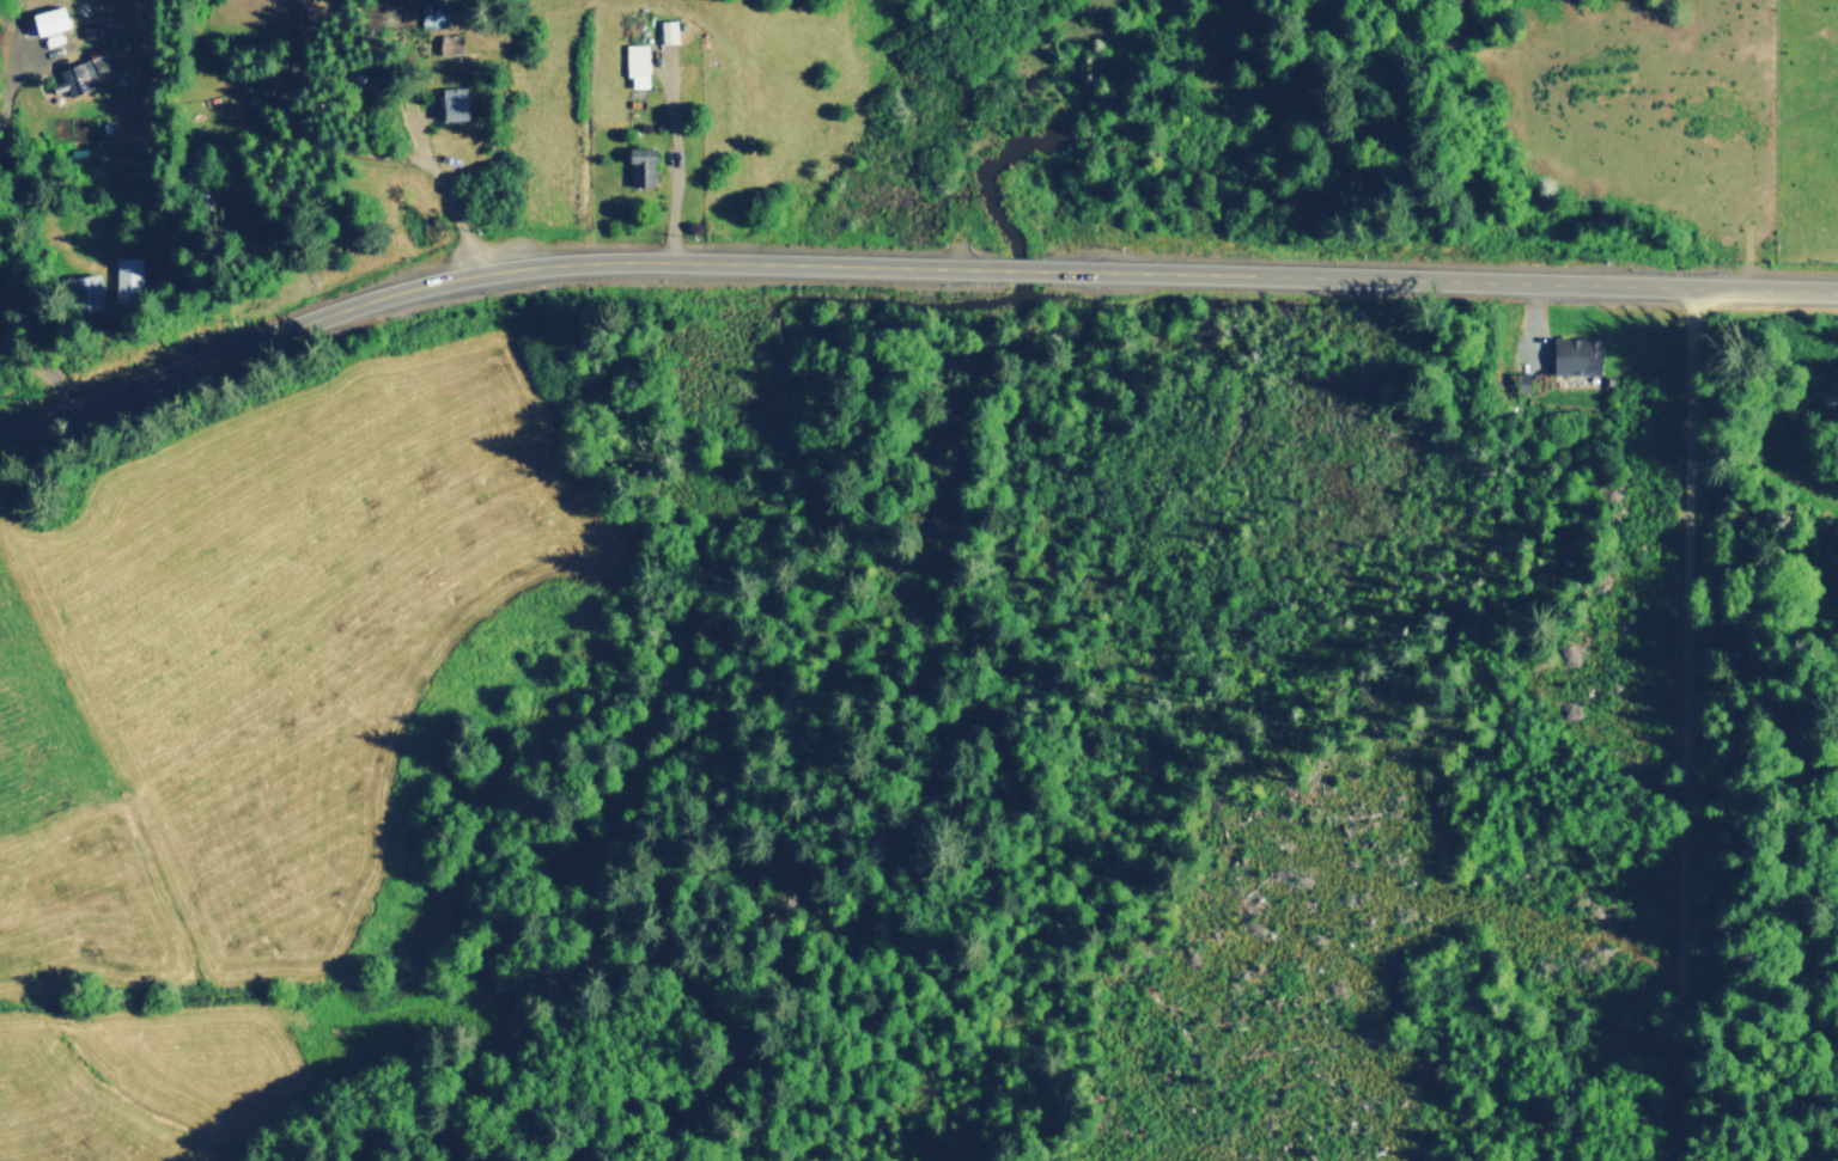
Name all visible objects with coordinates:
building: (669, 30)
building: (450, 42)
building: (638, 62)
building: (85, 71)
building: (455, 102)
road: (671, 161)
building: (644, 164)
road: (445, 189)
road: (903, 267)
building: (130, 279)
building: (90, 291)
building: (1578, 354)
road: (1720, 720)
crop: (244, 734)

